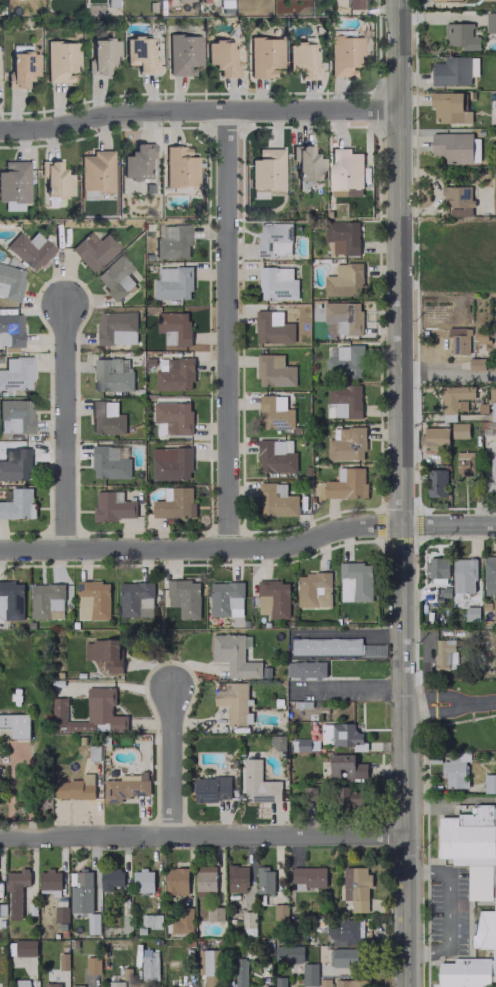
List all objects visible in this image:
building: (224, 3)
building: (352, 4)
building: (490, 23)
building: (460, 36)
building: (139, 53)
building: (182, 54)
building: (101, 55)
building: (344, 55)
building: (264, 56)
building: (221, 58)
building: (302, 59)
building: (60, 61)
building: (21, 68)
building: (450, 71)
building: (449, 107)
road: (199, 111)
building: (456, 147)
building: (137, 161)
building: (306, 164)
building: (179, 167)
building: (345, 168)
building: (95, 171)
building: (266, 173)
building: (54, 179)
building: (14, 181)
building: (493, 191)
building: (457, 200)
building: (342, 236)
building: (274, 239)
building: (171, 241)
building: (29, 249)
building: (93, 250)
building: (115, 277)
building: (344, 280)
building: (10, 281)
building: (172, 283)
building: (277, 283)
building: (343, 316)
building: (116, 327)
building: (173, 327)
building: (273, 327)
building: (10, 330)
road: (228, 330)
building: (458, 340)
building: (344, 361)
building: (476, 363)
building: (274, 370)
building: (15, 373)
road: (447, 373)
building: (111, 374)
building: (174, 374)
building: (453, 396)
building: (492, 400)
building: (343, 401)
building: (274, 413)
building: (15, 416)
building: (172, 417)
building: (106, 418)
road: (66, 428)
building: (459, 430)
building: (435, 436)
building: (346, 443)
building: (275, 456)
building: (109, 462)
building: (15, 463)
building: (171, 463)
building: (464, 463)
building: (492, 470)
building: (436, 482)
building: (346, 483)
road: (398, 493)
building: (276, 500)
building: (18, 504)
building: (175, 504)
building: (112, 506)
road: (249, 549)
building: (437, 567)
building: (489, 574)
building: (463, 575)
building: (358, 579)
building: (313, 589)
building: (346, 589)
building: (184, 597)
building: (225, 597)
building: (135, 598)
building: (273, 598)
building: (11, 599)
building: (46, 600)
building: (93, 600)
building: (494, 610)
road: (346, 633)
building: (325, 645)
building: (103, 653)
building: (444, 654)
building: (234, 655)
building: (305, 669)
road: (126, 684)
road: (358, 685)
road: (431, 695)
building: (233, 701)
road: (477, 703)
road: (430, 711)
building: (90, 713)
building: (15, 724)
building: (342, 735)
building: (307, 744)
road: (173, 765)
building: (346, 766)
building: (454, 769)
building: (258, 783)
building: (489, 783)
building: (75, 787)
building: (125, 787)
building: (212, 788)
building: (348, 798)
road: (205, 834)
building: (474, 864)
building: (309, 876)
building: (110, 878)
building: (237, 878)
building: (49, 879)
building: (142, 880)
building: (175, 880)
building: (205, 880)
building: (264, 880)
building: (356, 887)
building: (80, 891)
building: (16, 892)
road: (448, 909)
building: (280, 912)
building: (60, 914)
building: (151, 920)
building: (182, 921)
building: (248, 921)
building: (344, 932)
building: (25, 947)
building: (288, 953)
building: (343, 957)
building: (92, 965)
building: (149, 965)
building: (211, 968)
building: (239, 972)
building: (464, 973)
building: (309, 974)
building: (280, 981)
building: (21, 983)
building: (351, 983)
building: (51, 984)
building: (115, 984)
building: (76, 985)

